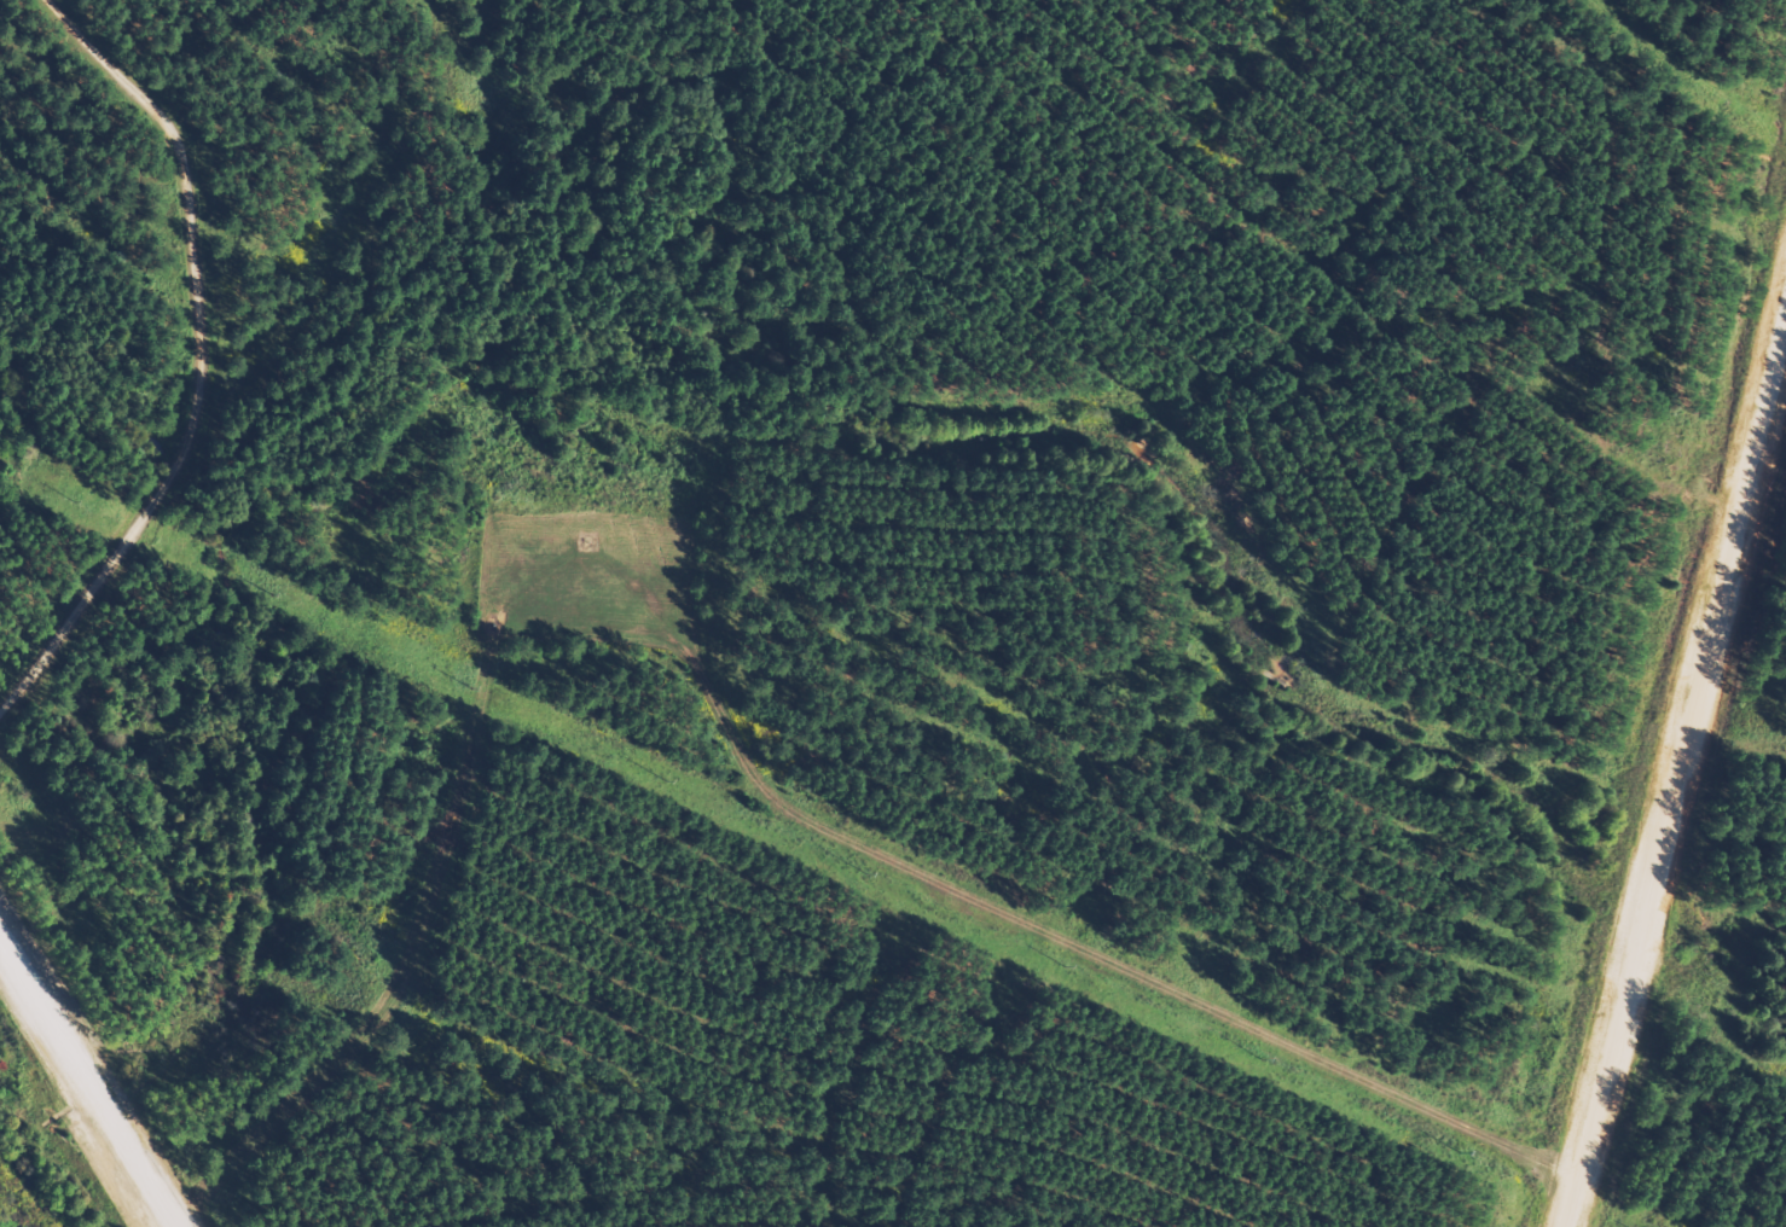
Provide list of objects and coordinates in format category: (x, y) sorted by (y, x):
road: (1678, 790)
road: (88, 1084)

